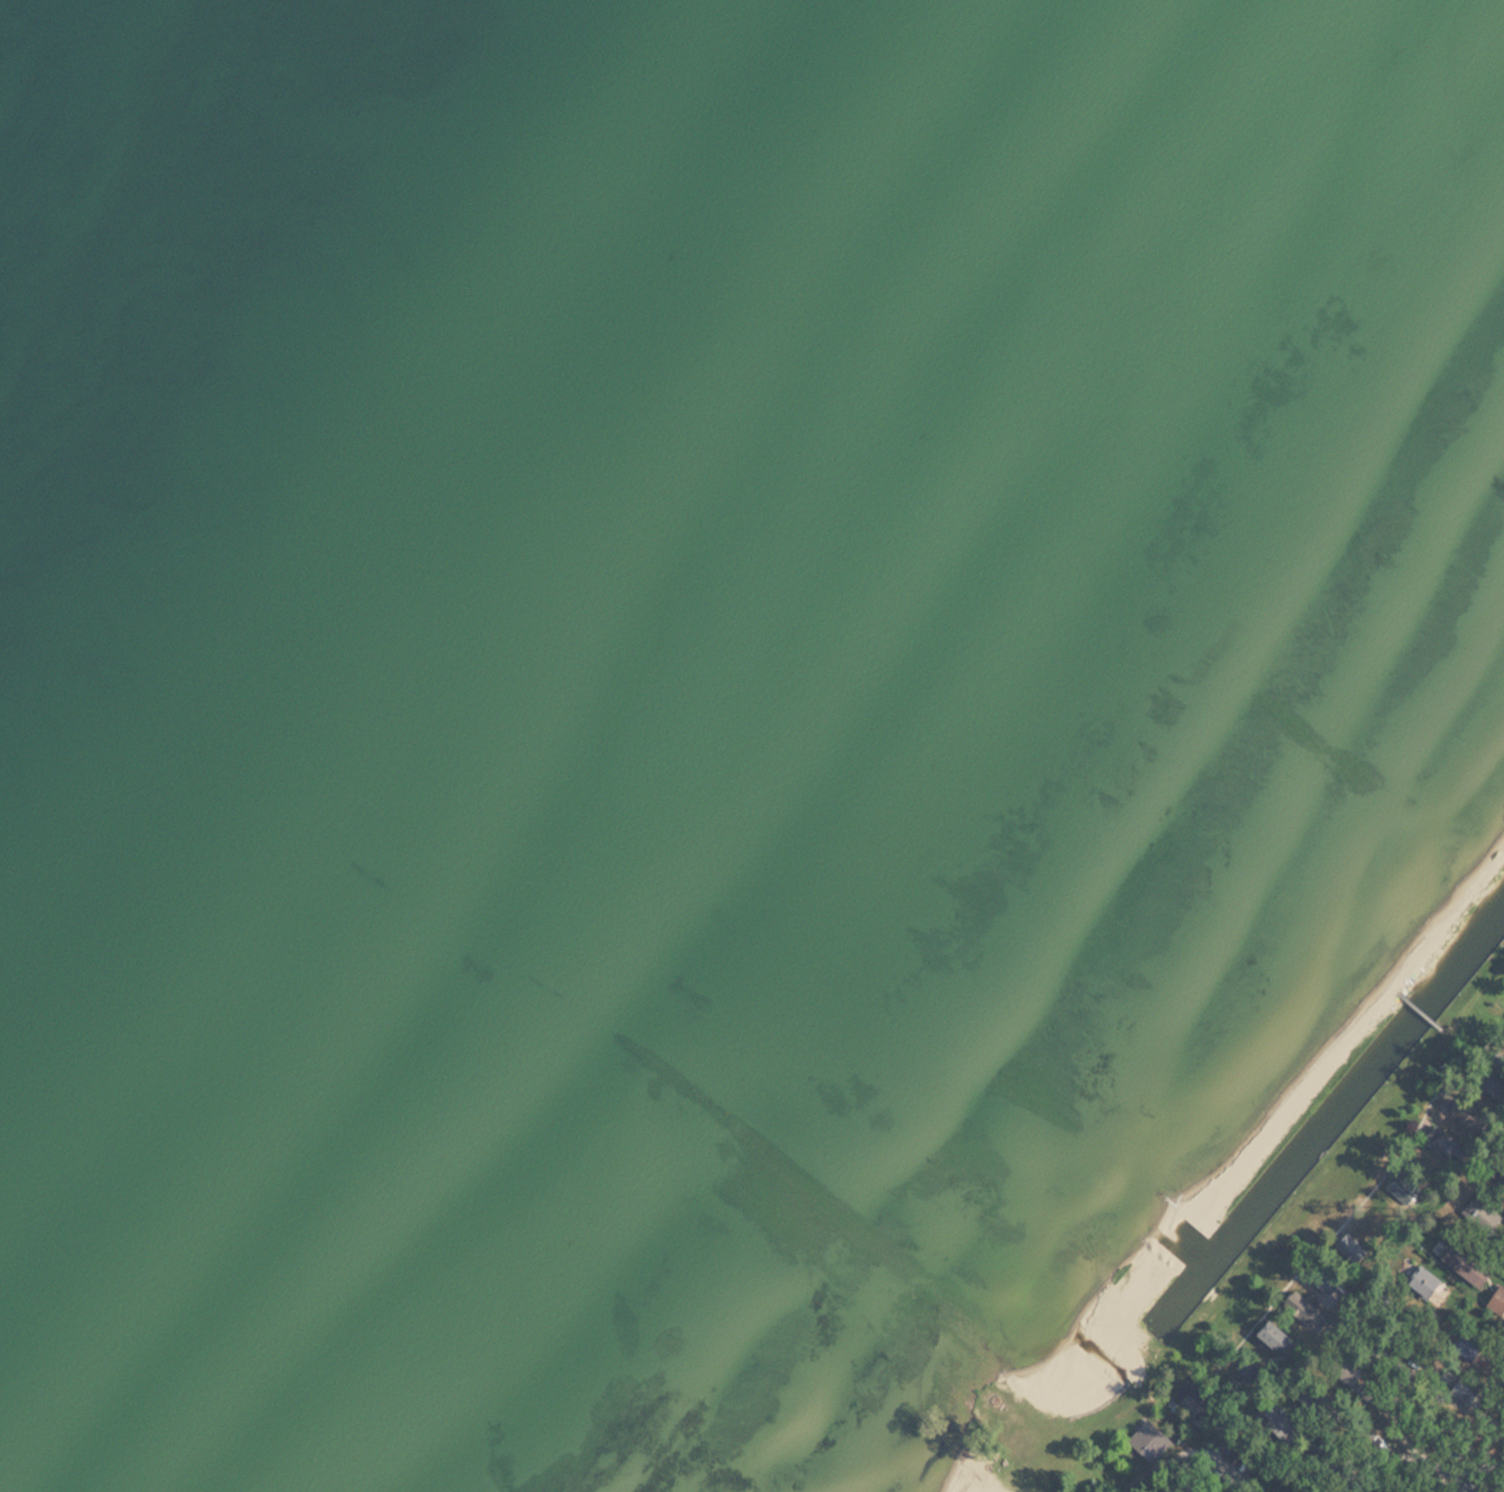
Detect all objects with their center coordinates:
building: (1489, 1086)
building: (1439, 1139)
building: (1484, 1214)
building: (1462, 1263)
building: (1419, 1282)
building: (1497, 1298)
building: (1302, 1305)
building: (1343, 1368)
building: (1466, 1391)
building: (1275, 1419)
building: (1150, 1441)
park: (1216, 1489)

